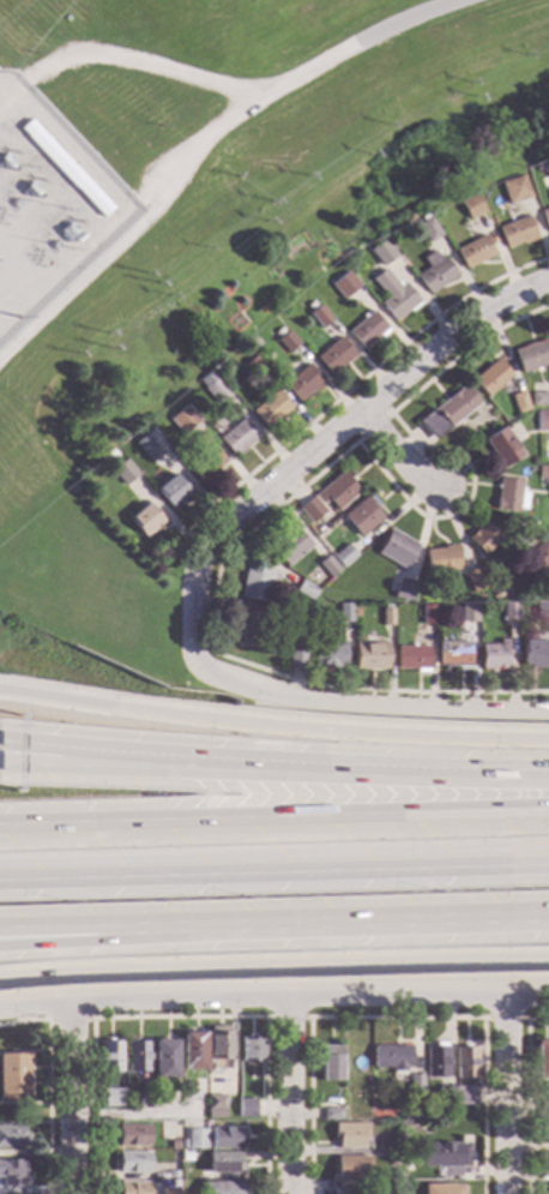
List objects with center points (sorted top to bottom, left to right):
road: (249, 80)
building: (65, 167)
building: (514, 190)
building: (471, 206)
power substation: (48, 210)
building: (545, 218)
building: (428, 229)
building: (515, 233)
building: (473, 252)
building: (384, 253)
building: (343, 271)
building: (434, 272)
building: (348, 286)
building: (394, 295)
building: (320, 316)
power tower: (20, 319)
building: (366, 329)
building: (279, 332)
building: (288, 341)
building: (334, 356)
building: (531, 356)
building: (255, 367)
building: (211, 376)
building: (490, 377)
building: (302, 383)
road: (354, 384)
building: (217, 390)
building: (539, 400)
building: (519, 402)
building: (270, 409)
building: (447, 412)
road: (388, 413)
building: (183, 420)
building: (542, 421)
building: (239, 437)
road: (322, 443)
building: (155, 446)
building: (501, 448)
road: (393, 454)
building: (204, 461)
building: (125, 472)
building: (542, 472)
road: (302, 485)
building: (171, 490)
building: (336, 491)
building: (508, 496)
building: (310, 510)
building: (361, 515)
building: (145, 518)
building: (482, 538)
building: (525, 539)
building: (289, 546)
building: (394, 550)
building: (343, 556)
building: (539, 556)
building: (440, 560)
building: (326, 566)
building: (472, 581)
building: (255, 583)
building: (402, 589)
building: (303, 590)
building: (541, 611)
building: (467, 612)
building: (508, 612)
building: (343, 613)
building: (385, 614)
building: (427, 614)
building: (295, 623)
building: (249, 628)
building: (532, 650)
building: (453, 654)
building: (326, 655)
building: (369, 655)
building: (491, 655)
building: (411, 658)
building: (296, 660)
road: (368, 707)
road: (273, 726)
road: (72, 752)
road: (71, 766)
road: (345, 769)
road: (274, 818)
road: (274, 874)
road: (355, 922)
road: (80, 929)
road: (80, 937)
road: (273, 964)
road: (482, 977)
road: (273, 995)
road: (70, 1016)
road: (177, 1016)
road: (286, 1018)
road: (396, 1019)
road: (503, 1019)
building: (218, 1048)
building: (251, 1049)
building: (193, 1051)
building: (110, 1056)
building: (137, 1057)
building: (391, 1057)
building: (164, 1058)
building: (331, 1060)
building: (354, 1061)
building: (435, 1061)
building: (542, 1061)
building: (465, 1063)
building: (13, 1078)
building: (414, 1085)
building: (367, 1086)
road: (68, 1094)
road: (290, 1094)
building: (445, 1094)
road: (509, 1094)
road: (526, 1094)
building: (157, 1096)
building: (464, 1096)
building: (113, 1098)
building: (129, 1103)
road: (48, 1106)
building: (215, 1106)
building: (543, 1111)
building: (332, 1114)
road: (133, 1115)
building: (417, 1115)
building: (133, 1135)
building: (349, 1135)
building: (13, 1136)
building: (225, 1138)
building: (548, 1138)
building: (195, 1139)
building: (174, 1145)
building: (194, 1154)
building: (446, 1157)
building: (133, 1162)
building: (223, 1163)
building: (409, 1168)
building: (351, 1169)
building: (11, 1174)
building: (173, 1175)
building: (387, 1176)
building: (133, 1188)
building: (222, 1188)
building: (442, 1188)
building: (169, 1190)

